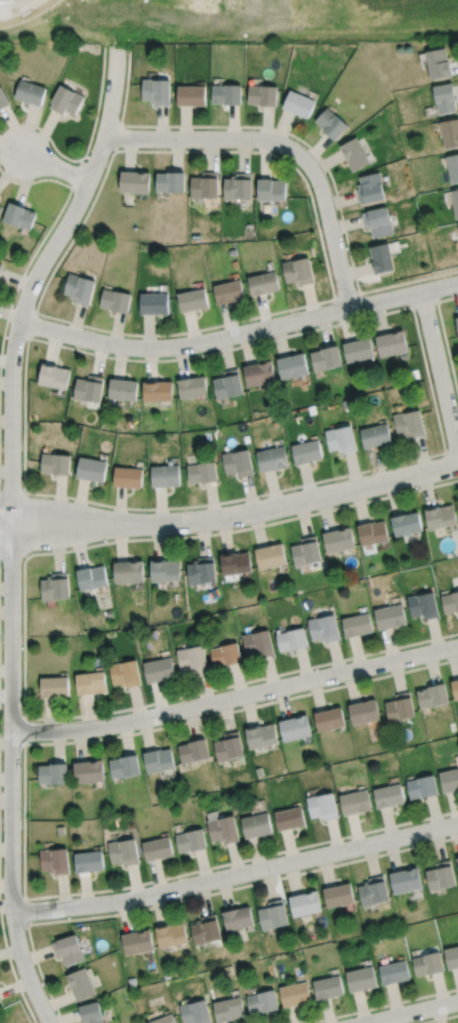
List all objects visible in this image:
crop: (229, 20)
building: (438, 63)
building: (156, 91)
building: (30, 92)
building: (227, 94)
building: (191, 95)
building: (262, 95)
building: (445, 98)
building: (3, 99)
building: (65, 100)
building: (298, 104)
building: (330, 123)
building: (450, 133)
road: (285, 145)
building: (354, 154)
road: (56, 166)
building: (453, 167)
building: (134, 182)
building: (170, 182)
building: (204, 185)
building: (238, 187)
building: (370, 189)
building: (271, 190)
building: (455, 201)
building: (0, 208)
building: (18, 216)
building: (378, 222)
building: (381, 258)
building: (1, 266)
building: (298, 271)
building: (263, 284)
road: (439, 286)
building: (79, 288)
building: (229, 292)
building: (192, 300)
building: (115, 301)
building: (154, 303)
building: (457, 320)
road: (220, 337)
building: (390, 343)
building: (357, 350)
building: (326, 358)
building: (292, 366)
road: (439, 370)
building: (259, 374)
building: (53, 376)
building: (227, 384)
building: (89, 388)
building: (192, 388)
building: (122, 389)
building: (157, 391)
building: (409, 423)
building: (375, 435)
building: (341, 439)
building: (306, 452)
building: (272, 459)
building: (238, 462)
building: (55, 463)
building: (91, 468)
building: (201, 472)
building: (165, 475)
building: (128, 476)
road: (237, 514)
building: (440, 516)
road: (6, 519)
building: (406, 523)
road: (6, 526)
road: (12, 527)
building: (372, 532)
building: (338, 540)
building: (306, 551)
building: (270, 556)
building: (235, 562)
building: (164, 570)
building: (202, 570)
building: (128, 571)
building: (92, 577)
building: (55, 586)
building: (450, 601)
building: (423, 605)
building: (389, 616)
building: (357, 624)
building: (323, 628)
building: (291, 639)
building: (258, 643)
building: (225, 654)
building: (192, 658)
building: (159, 670)
building: (125, 673)
building: (90, 683)
building: (54, 686)
building: (455, 688)
building: (433, 695)
road: (235, 696)
building: (400, 708)
building: (363, 711)
building: (329, 719)
building: (295, 727)
building: (261, 736)
building: (228, 746)
building: (193, 750)
building: (158, 760)
building: (124, 766)
building: (259, 770)
building: (89, 771)
building: (53, 773)
building: (449, 780)
building: (422, 787)
building: (388, 795)
building: (354, 802)
building: (322, 806)
building: (289, 818)
building: (256, 825)
building: (223, 829)
building: (60, 830)
building: (190, 840)
building: (157, 849)
building: (123, 852)
building: (457, 859)
building: (54, 860)
building: (88, 861)
road: (236, 874)
building: (440, 875)
building: (405, 879)
building: (373, 892)
building: (338, 895)
building: (305, 903)
building: (273, 914)
building: (238, 918)
building: (205, 929)
building: (171, 934)
building: (137, 942)
building: (67, 949)
building: (452, 957)
building: (427, 963)
building: (394, 972)
building: (360, 979)
building: (81, 984)
building: (328, 987)
building: (294, 993)
building: (0, 998)
building: (262, 1002)
building: (228, 1009)
building: (195, 1012)
road: (414, 1012)
building: (91, 1013)
building: (164, 1019)

